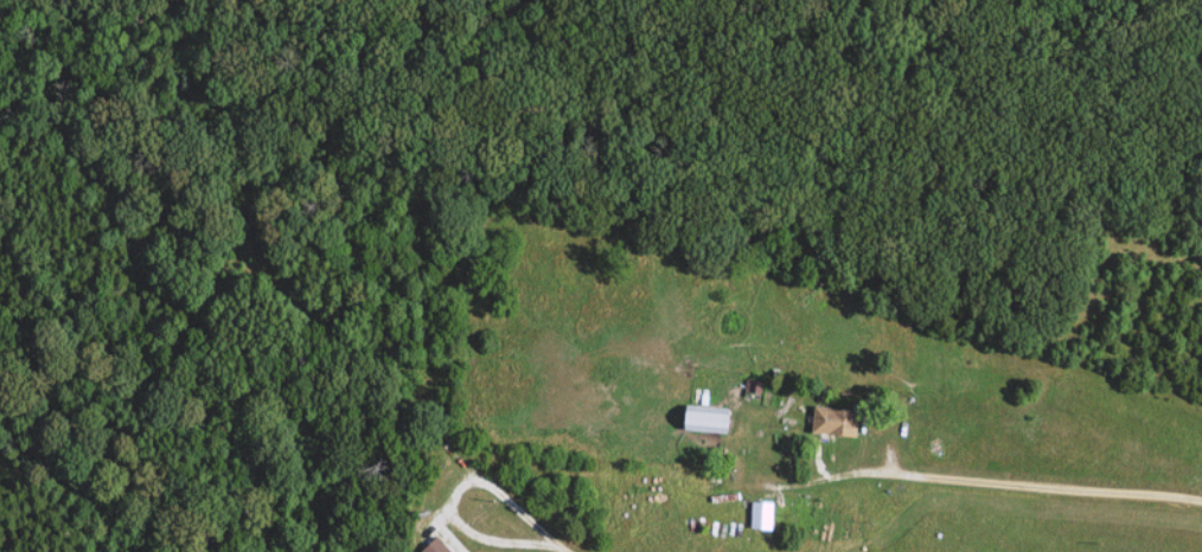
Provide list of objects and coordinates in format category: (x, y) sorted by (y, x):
building: (695, 421)
building: (824, 422)
road: (1036, 486)
road: (452, 496)
building: (754, 516)
building: (429, 546)
road: (558, 548)

